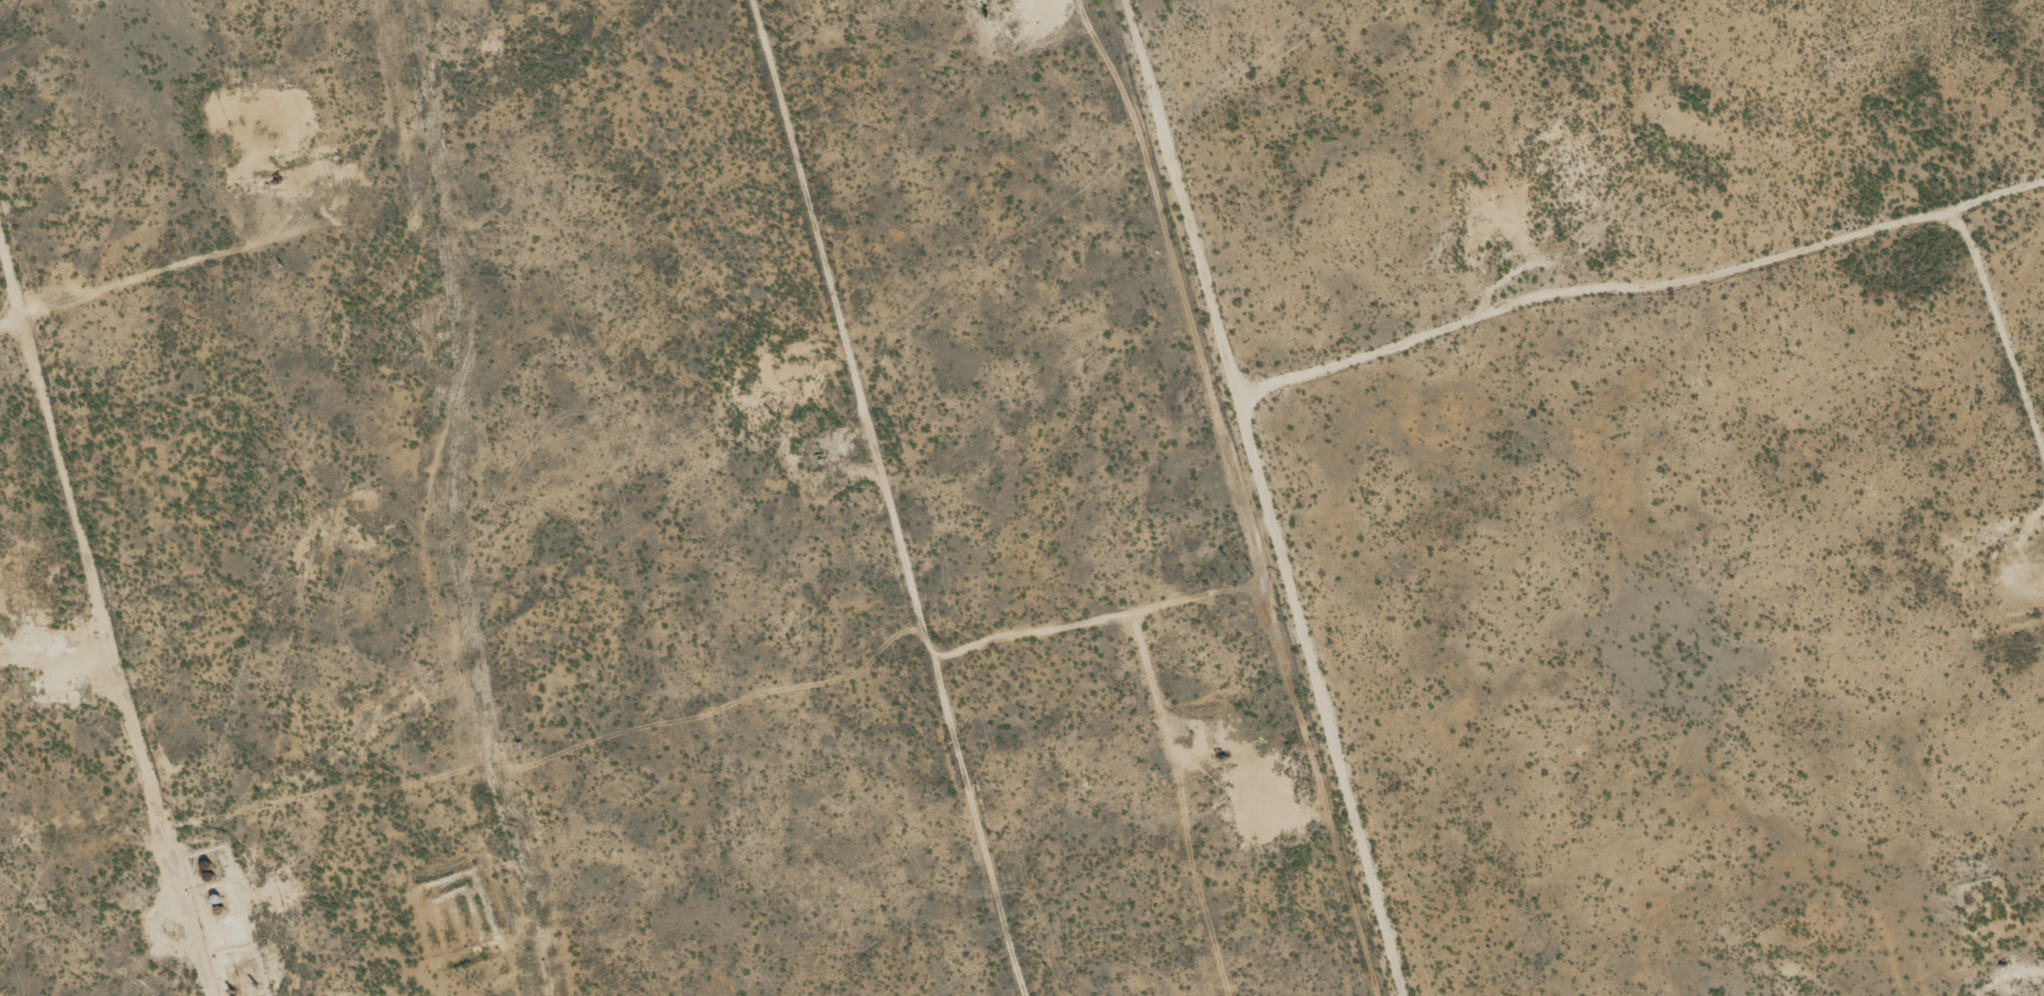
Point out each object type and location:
road: (1671, 333)
road: (1318, 495)
road: (935, 498)
road: (127, 527)
petroleum well: (1220, 758)

